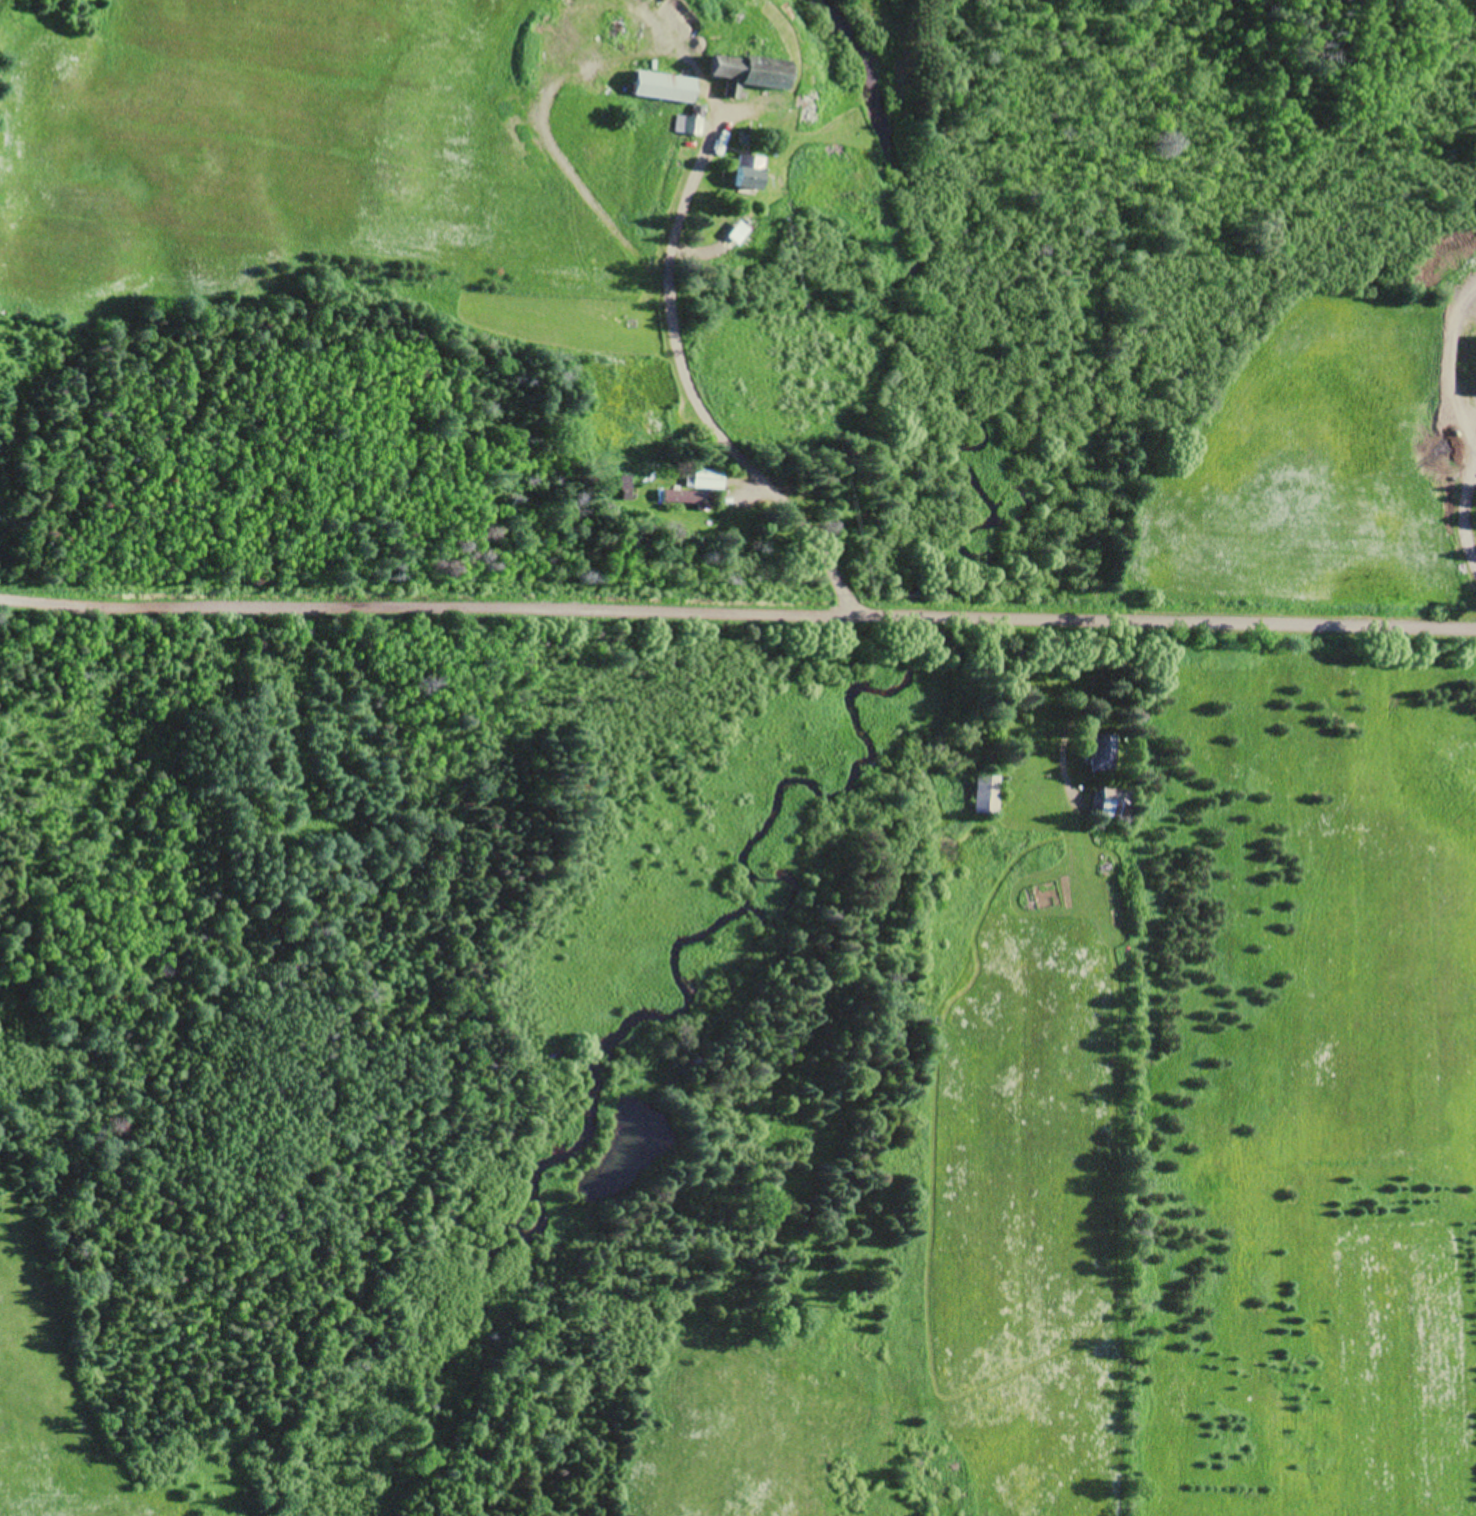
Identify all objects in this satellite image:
building: (748, 71)
building: (668, 85)
building: (694, 120)
building: (751, 170)
road: (690, 386)
building: (708, 486)
road: (738, 612)
building: (1105, 752)
building: (987, 793)
building: (1115, 801)

